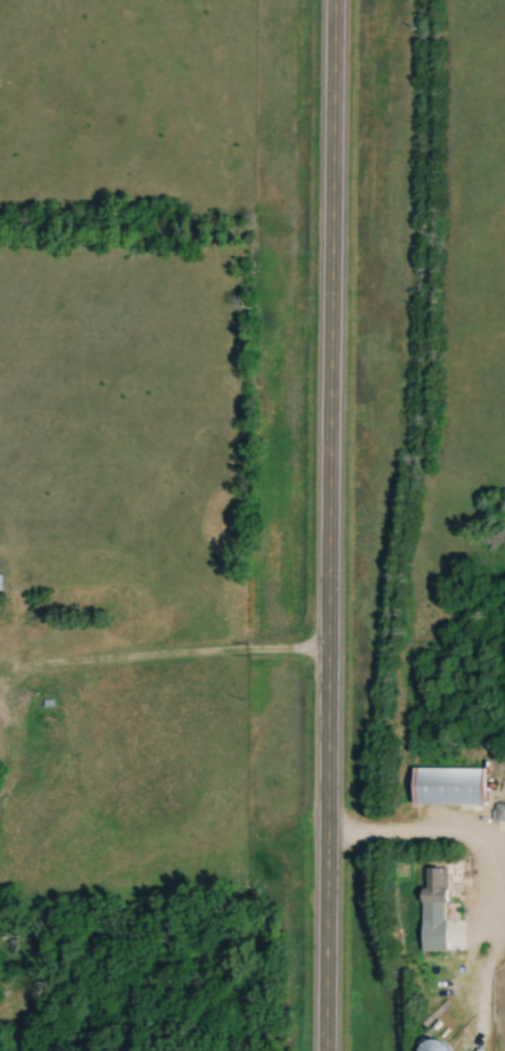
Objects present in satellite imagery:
road: (325, 525)
road: (157, 662)
building: (453, 786)
building: (439, 887)
building: (482, 901)
building: (438, 1047)

